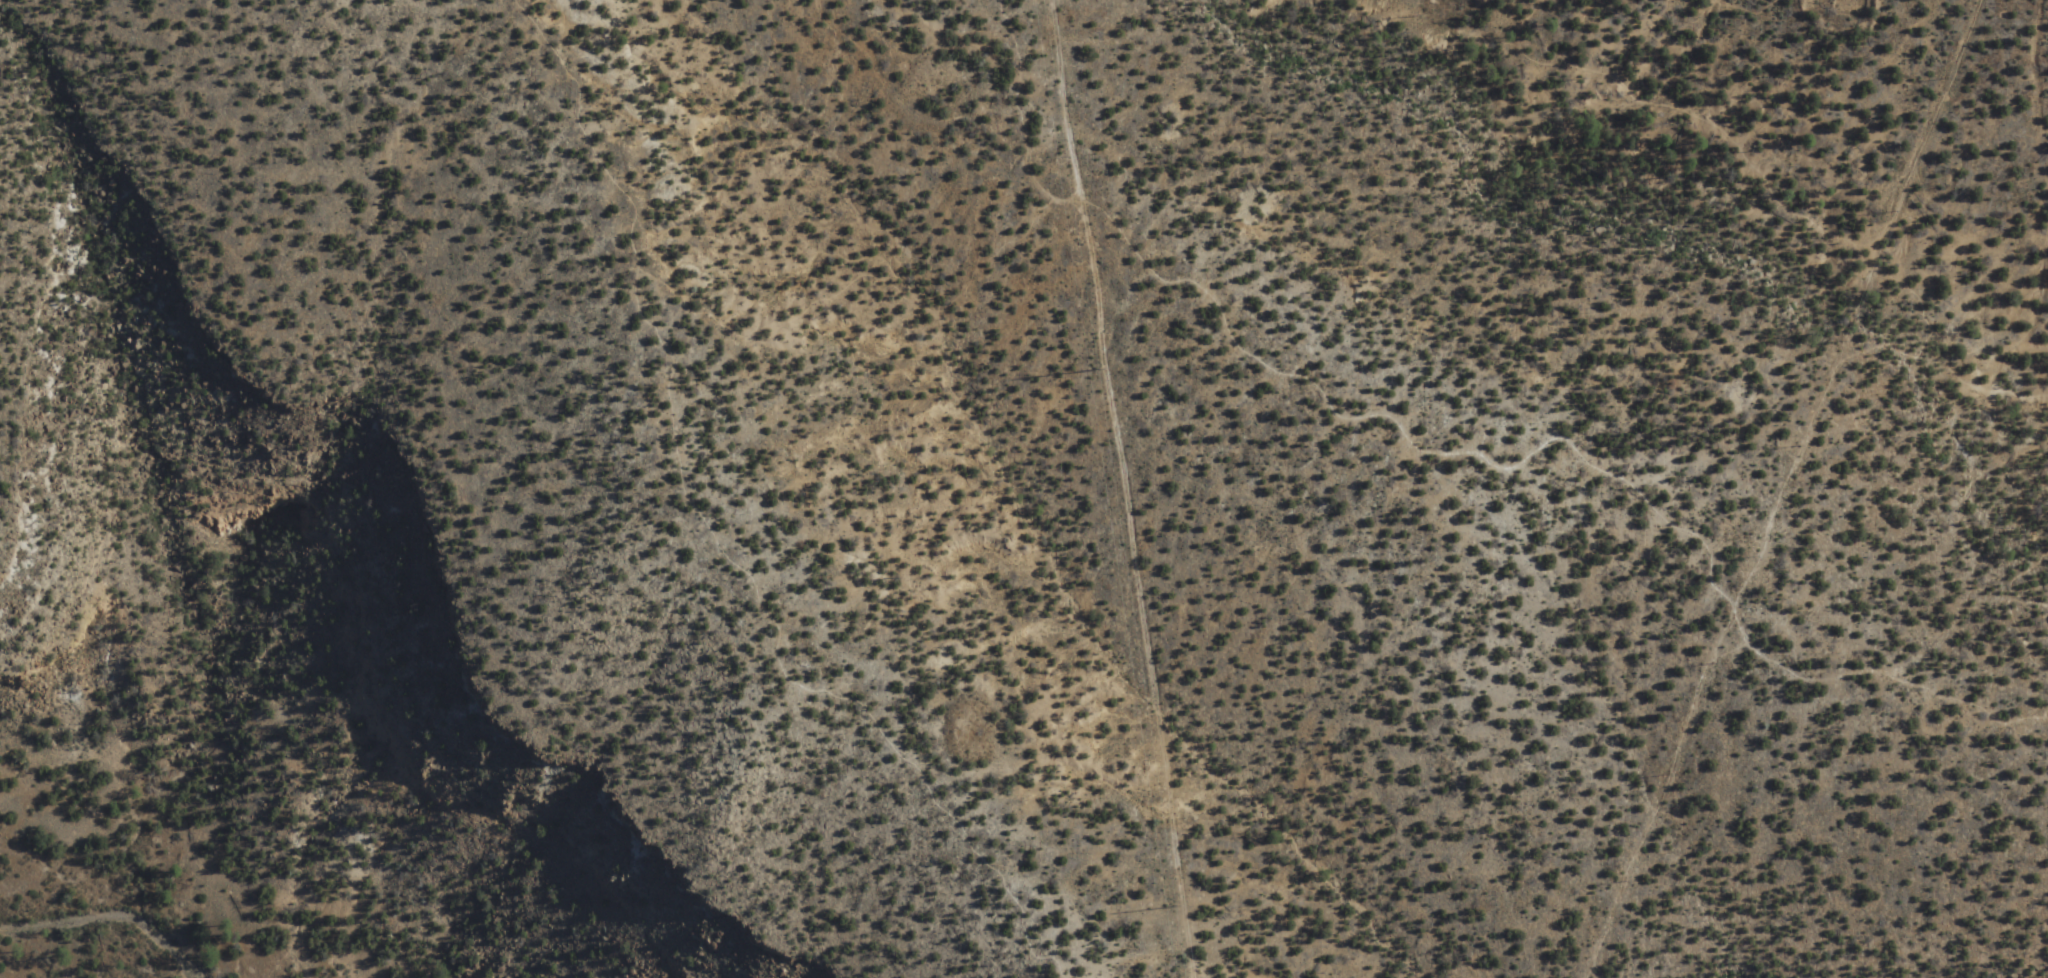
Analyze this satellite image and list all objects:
road: (1927, 126)
road: (1770, 192)
road: (853, 271)
road: (1888, 345)
road: (2007, 445)
road: (1458, 455)
road: (1783, 472)
road: (1126, 488)
road: (1966, 531)
road: (716, 538)
road: (2014, 626)
road: (1662, 792)

